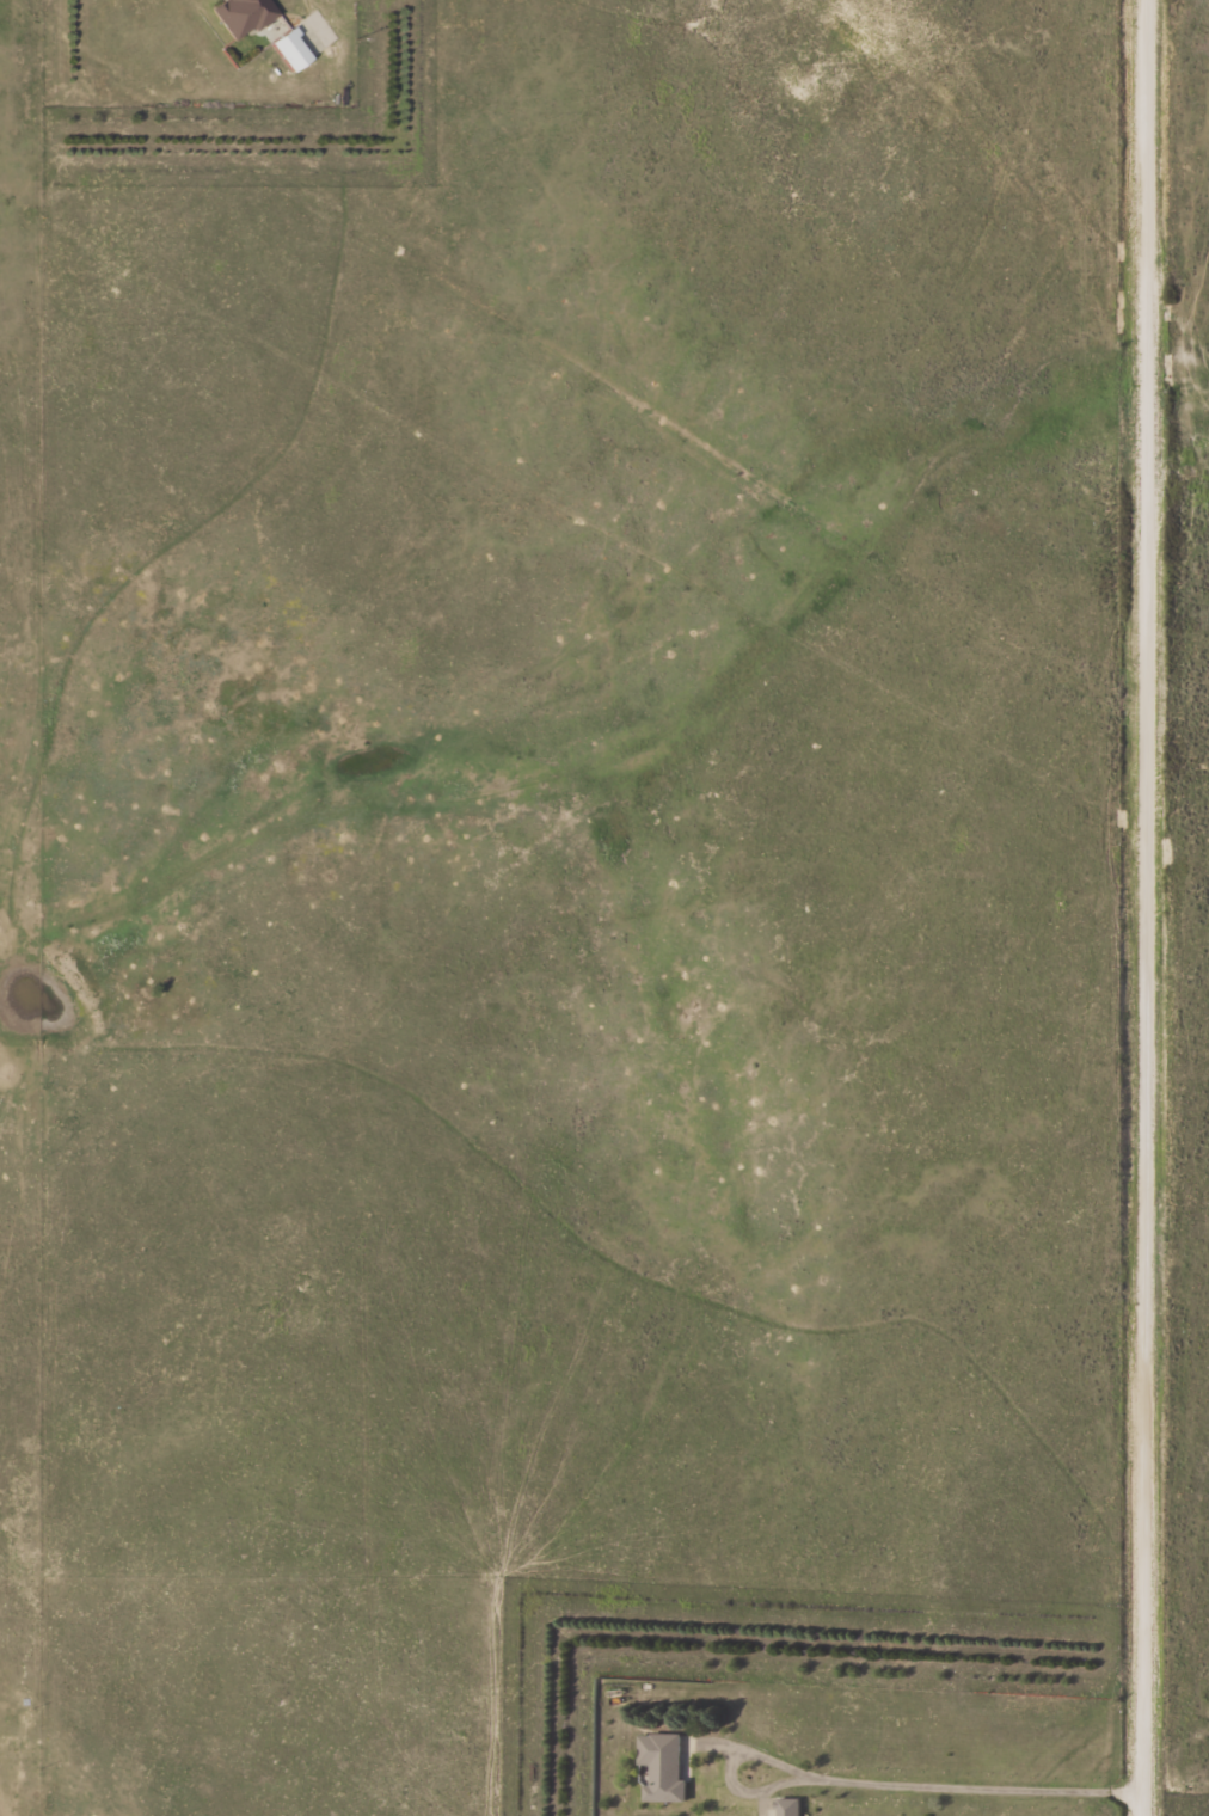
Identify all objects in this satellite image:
building: (306, 41)
road: (1147, 908)
building: (662, 1766)
building: (788, 1806)

